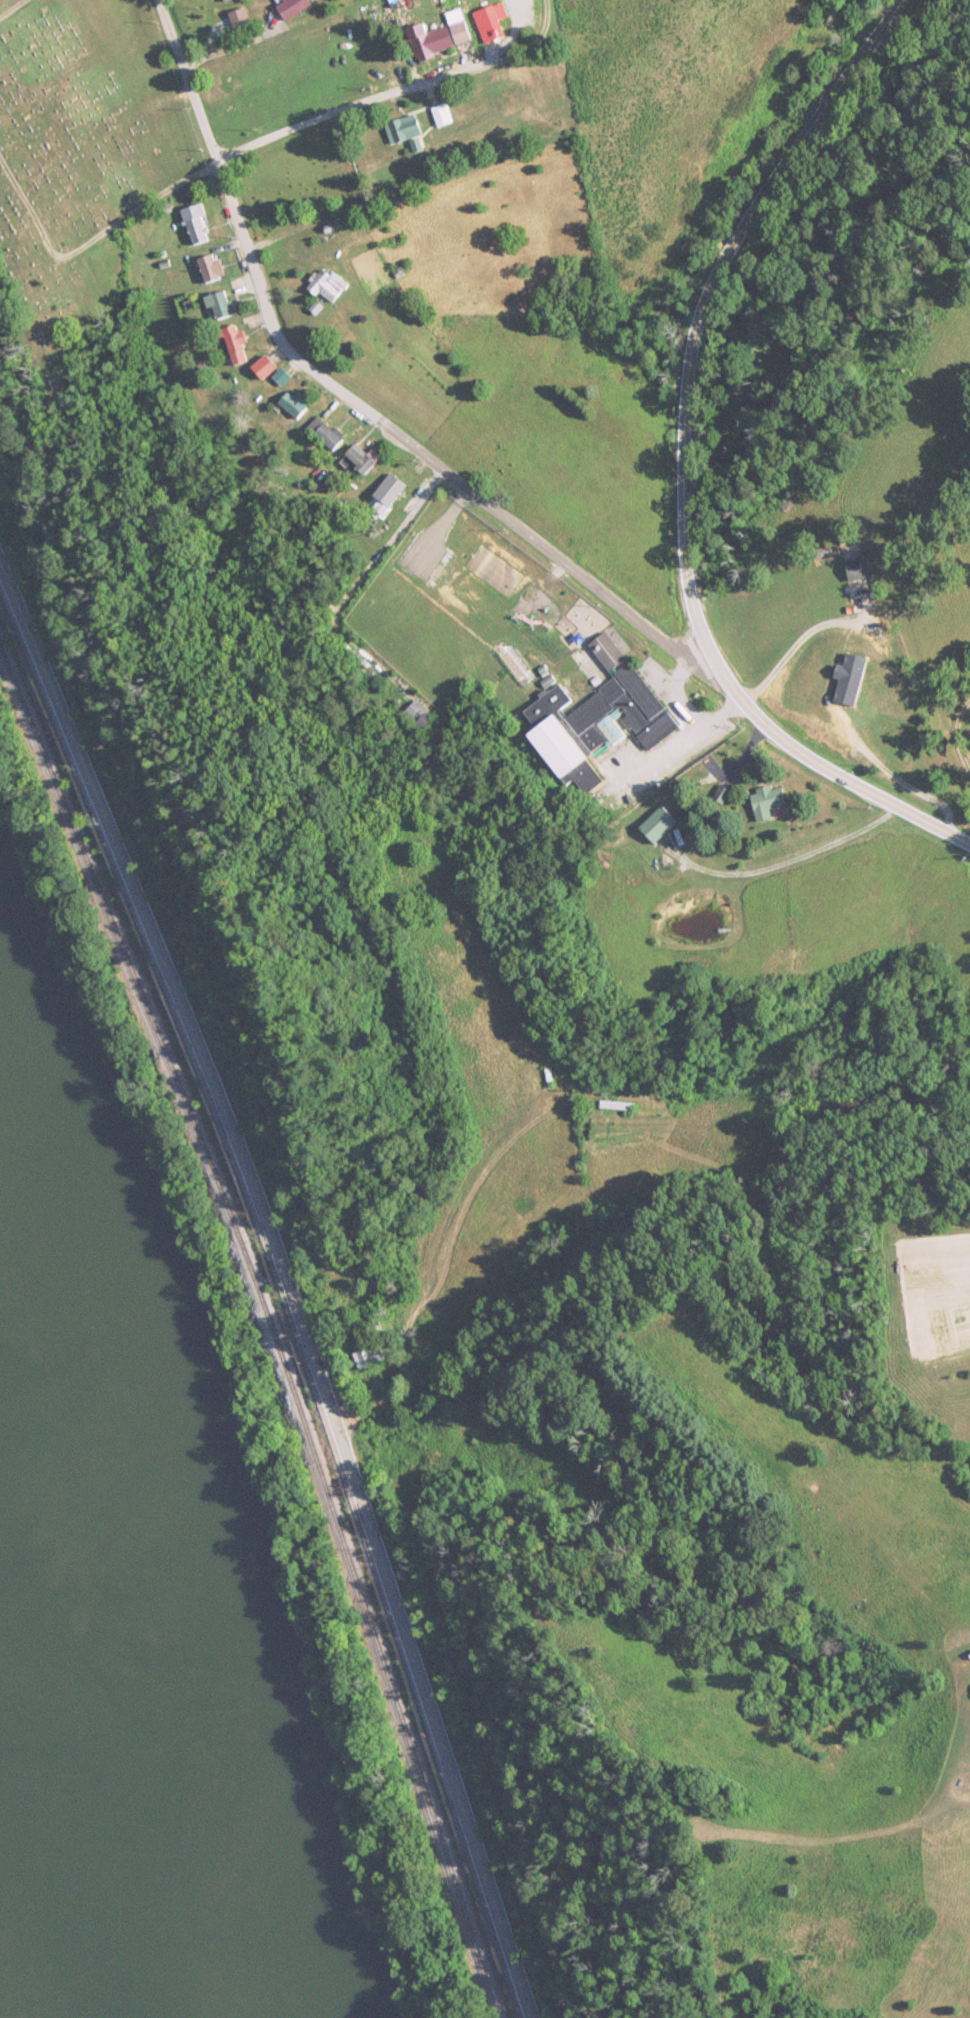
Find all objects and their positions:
building: (218, 1)
road: (9, 6)
building: (282, 8)
building: (479, 23)
building: (423, 40)
road: (395, 92)
building: (429, 116)
building: (390, 130)
building: (191, 231)
road: (97, 233)
building: (204, 268)
building: (319, 288)
building: (214, 307)
building: (231, 345)
building: (257, 369)
road: (345, 401)
building: (288, 405)
building: (322, 432)
building: (355, 461)
road: (683, 462)
building: (383, 498)
building: (850, 570)
building: (595, 728)
road: (957, 736)
building: (756, 801)
road: (164, 955)
railway: (272, 1323)
building: (365, 1357)
road: (425, 1683)
river: (79, 1776)
road: (940, 1784)

